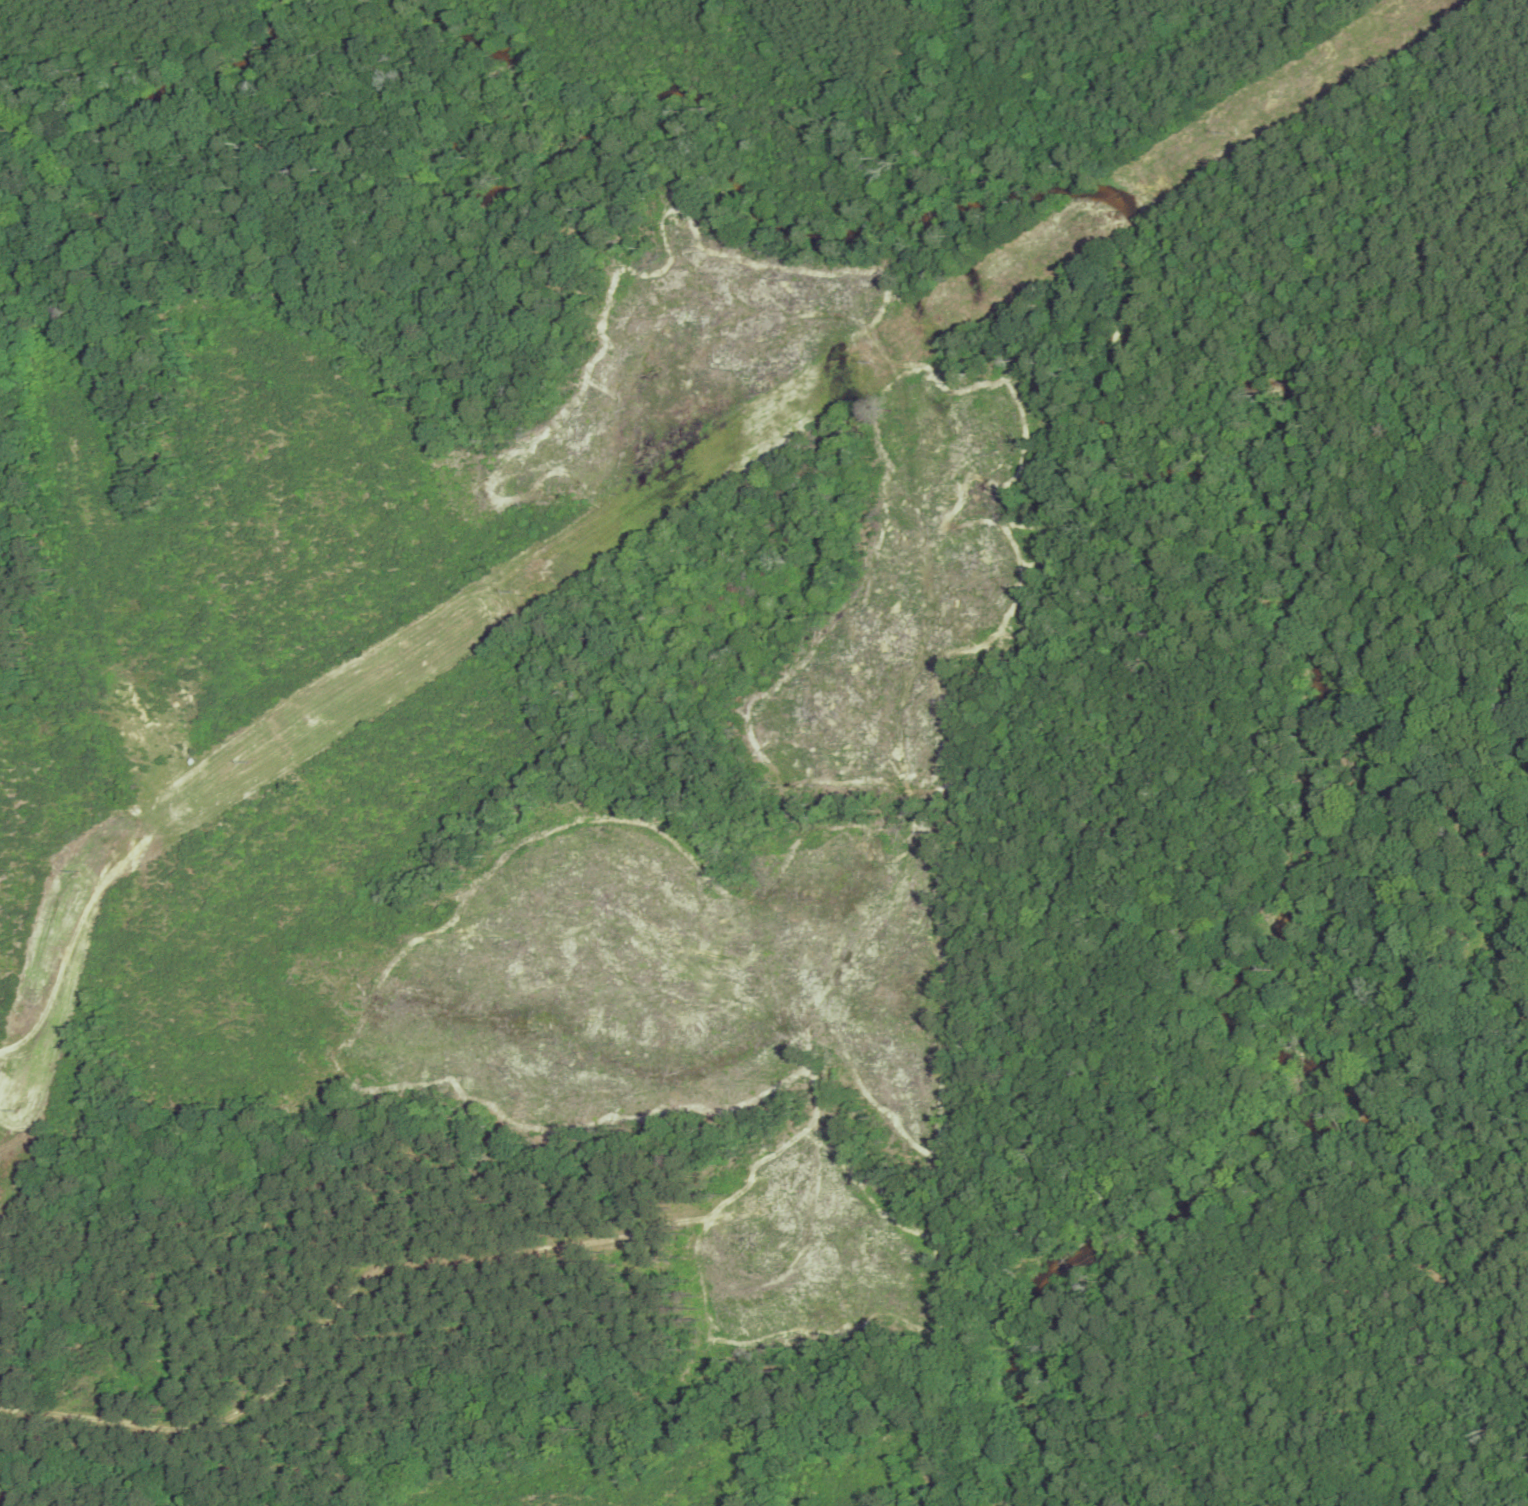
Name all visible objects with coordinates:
road: (577, 966)
road: (358, 1316)

